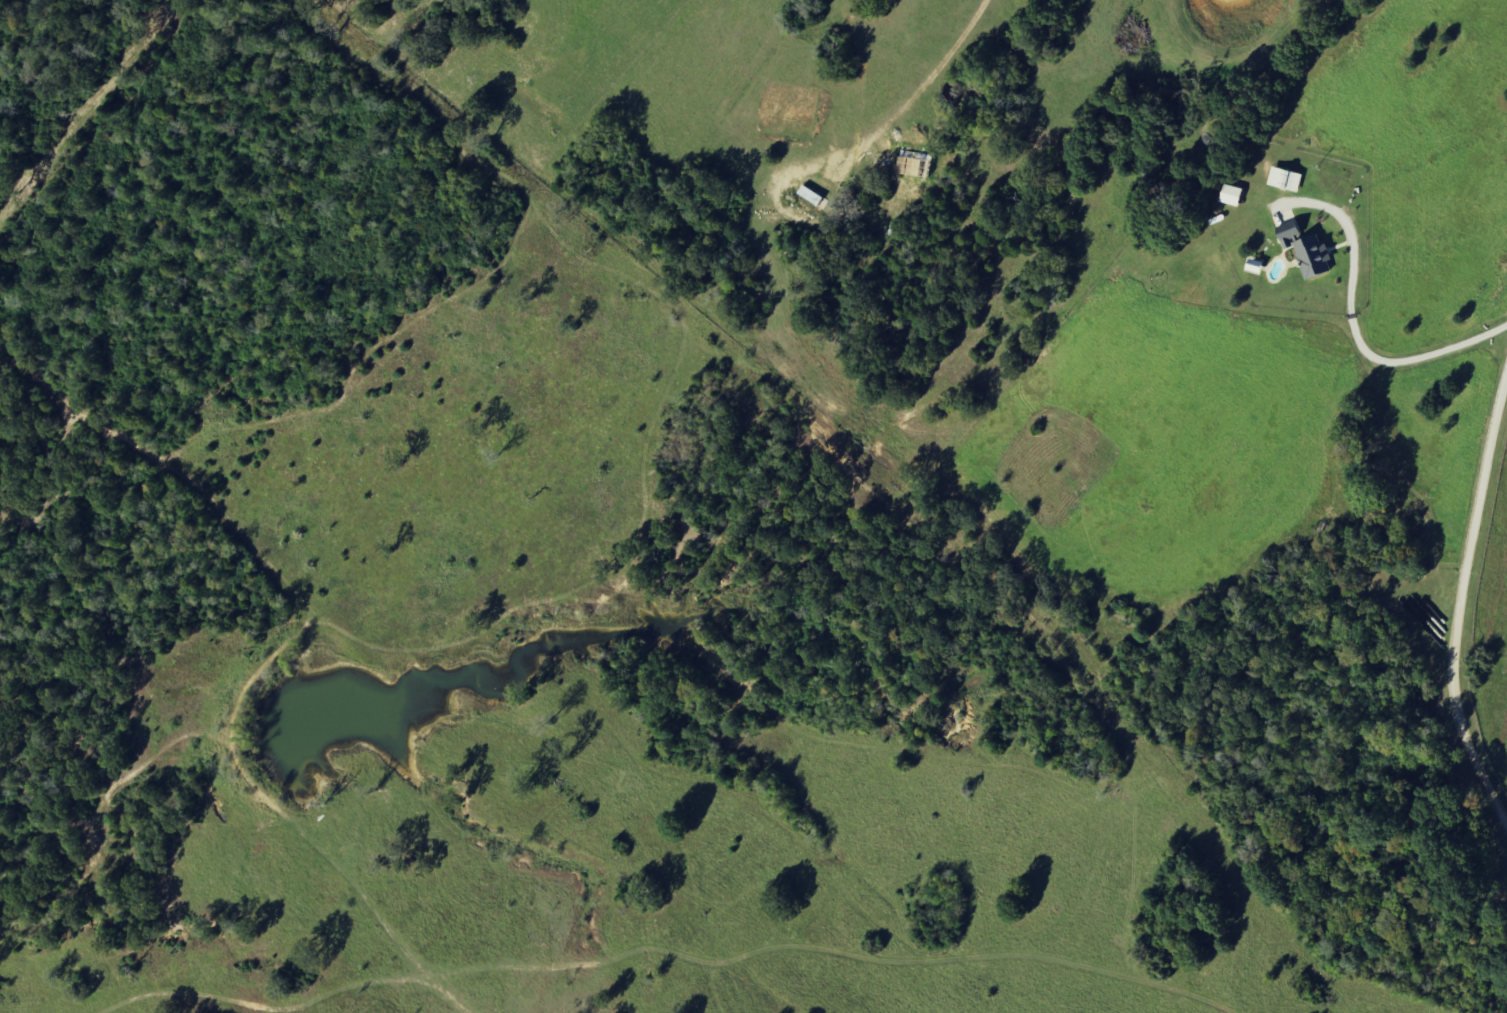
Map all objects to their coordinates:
building: (1285, 180)
building: (1231, 196)
building: (1308, 252)
road: (1354, 337)
road: (1460, 610)

